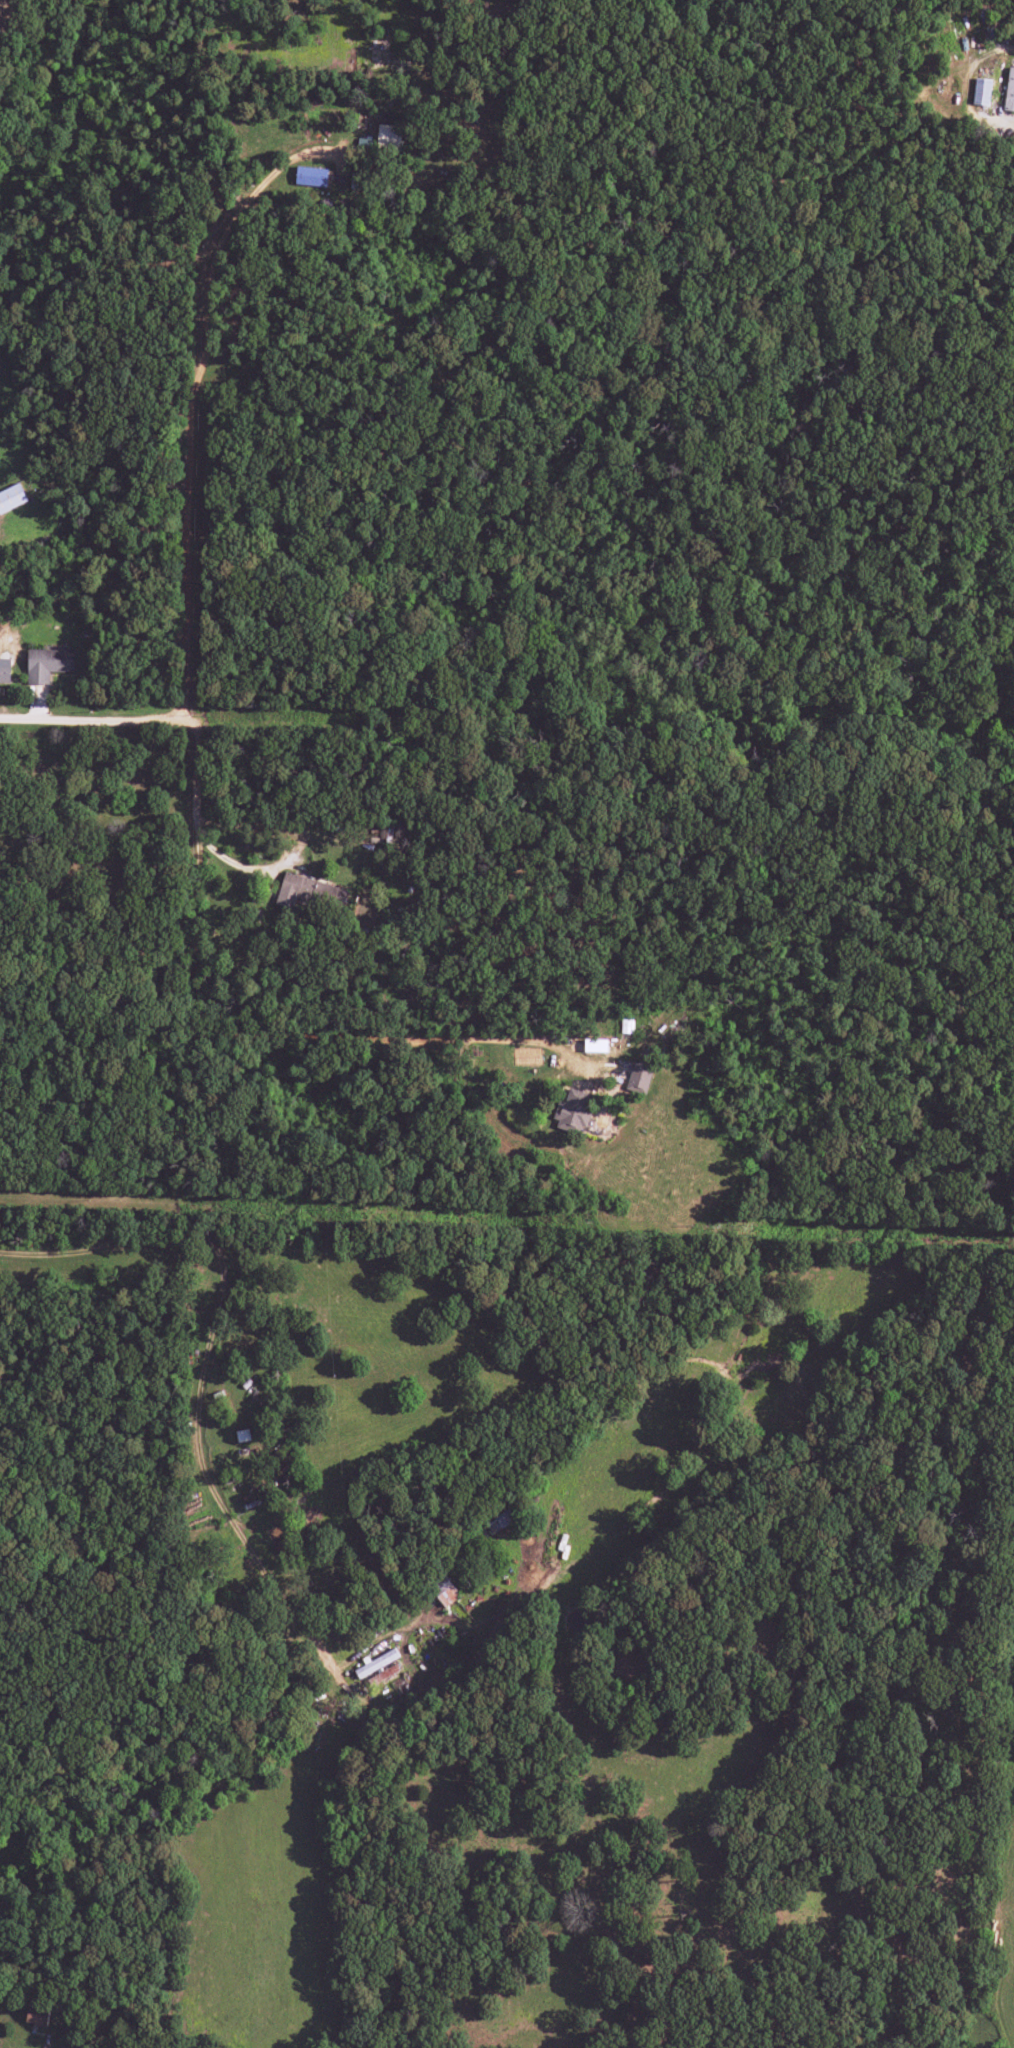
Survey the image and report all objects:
building: (981, 91)
building: (1009, 91)
building: (388, 136)
building: (311, 177)
road: (188, 402)
building: (11, 498)
building: (47, 664)
road: (93, 719)
road: (193, 777)
road: (294, 845)
building: (308, 892)
building: (626, 1026)
road: (268, 1033)
building: (595, 1045)
building: (638, 1078)
building: (573, 1111)
building: (499, 1521)
building: (444, 1591)
building: (375, 1663)
building: (384, 1671)
building: (37, 2014)
road: (51, 2035)

